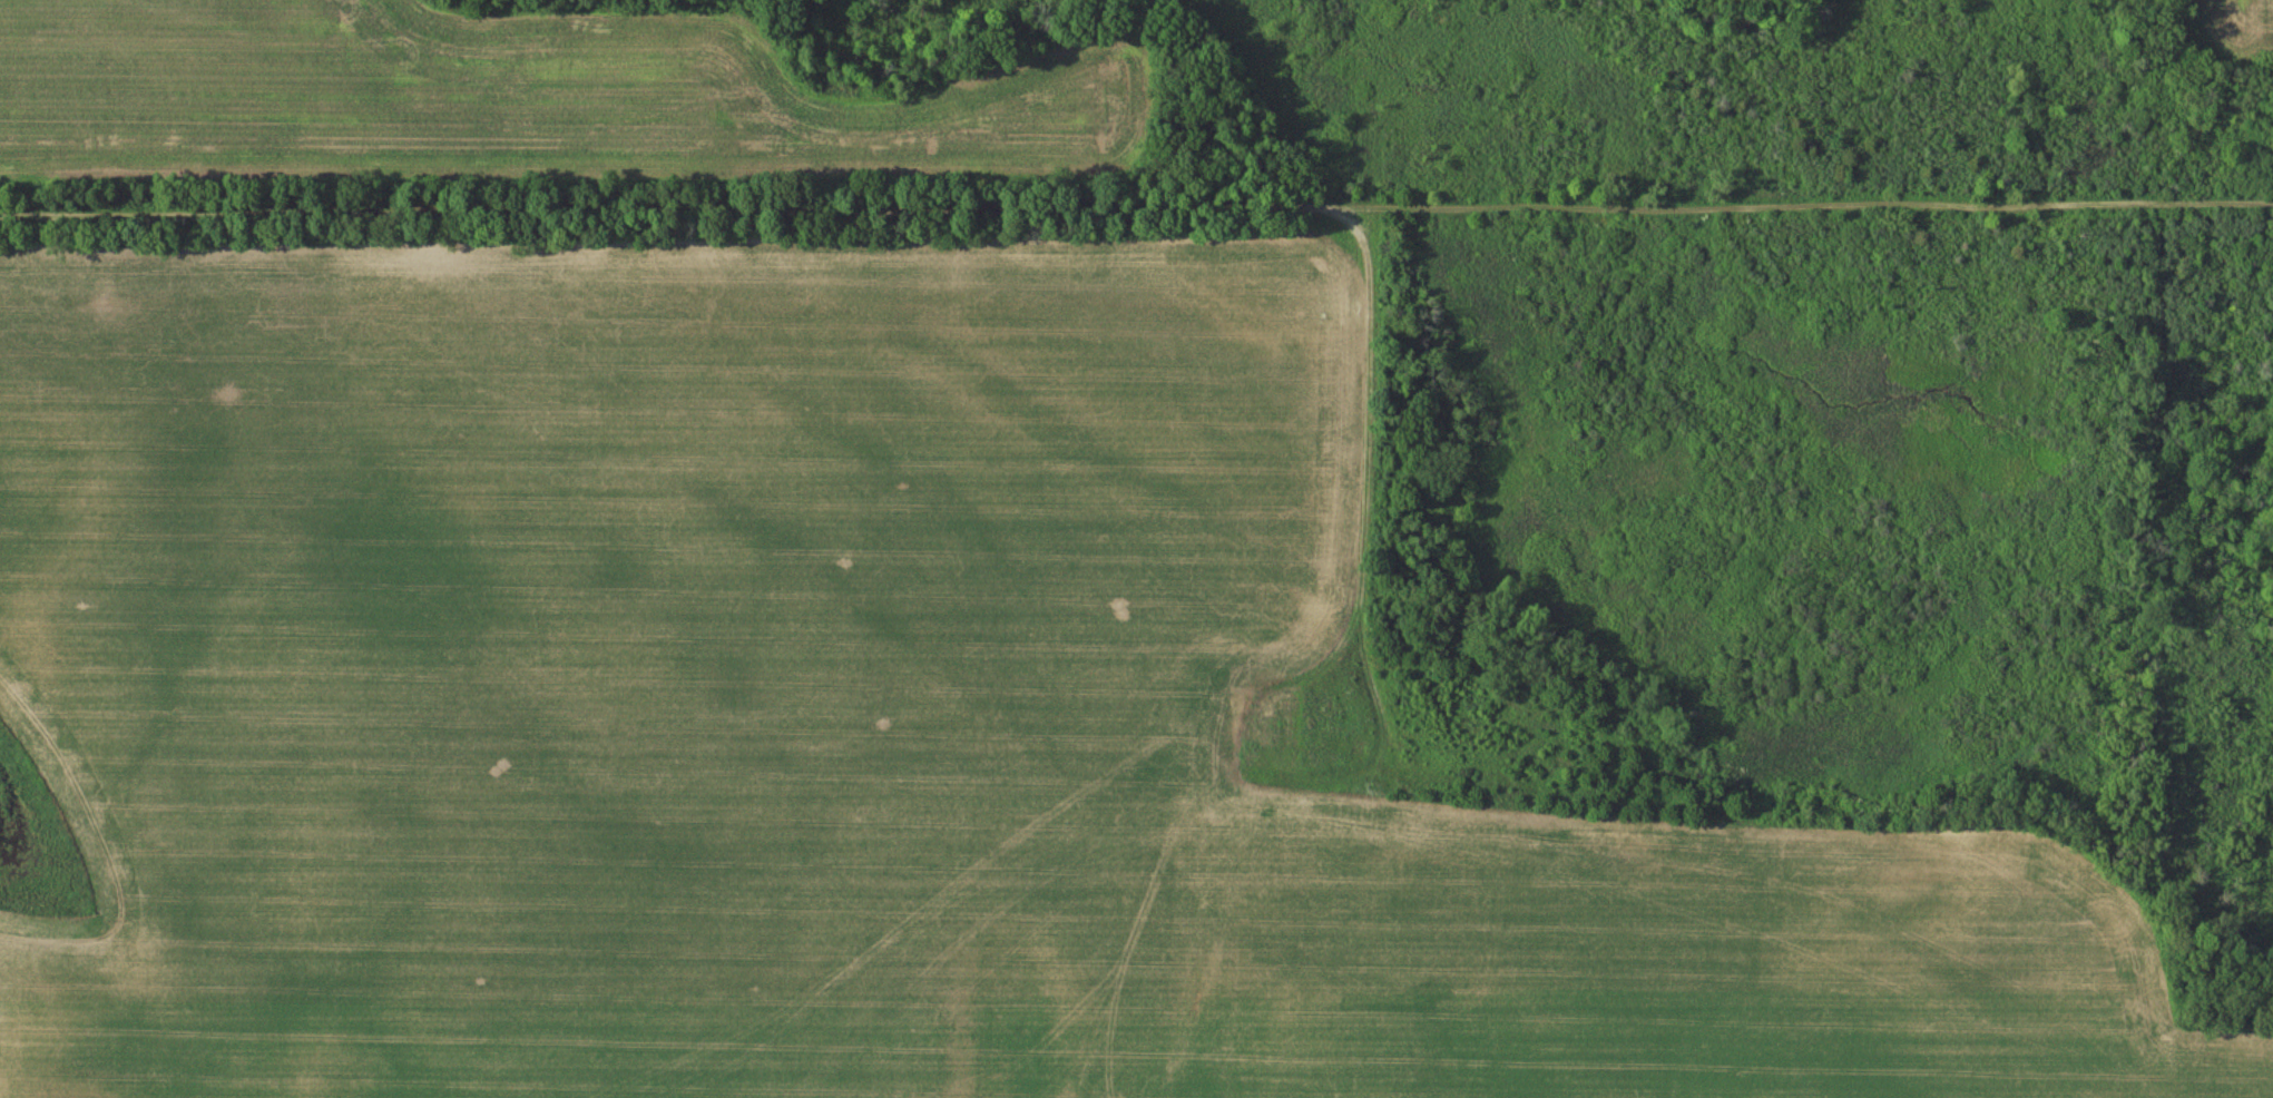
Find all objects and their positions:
road: (1136, 206)
road: (1366, 576)

